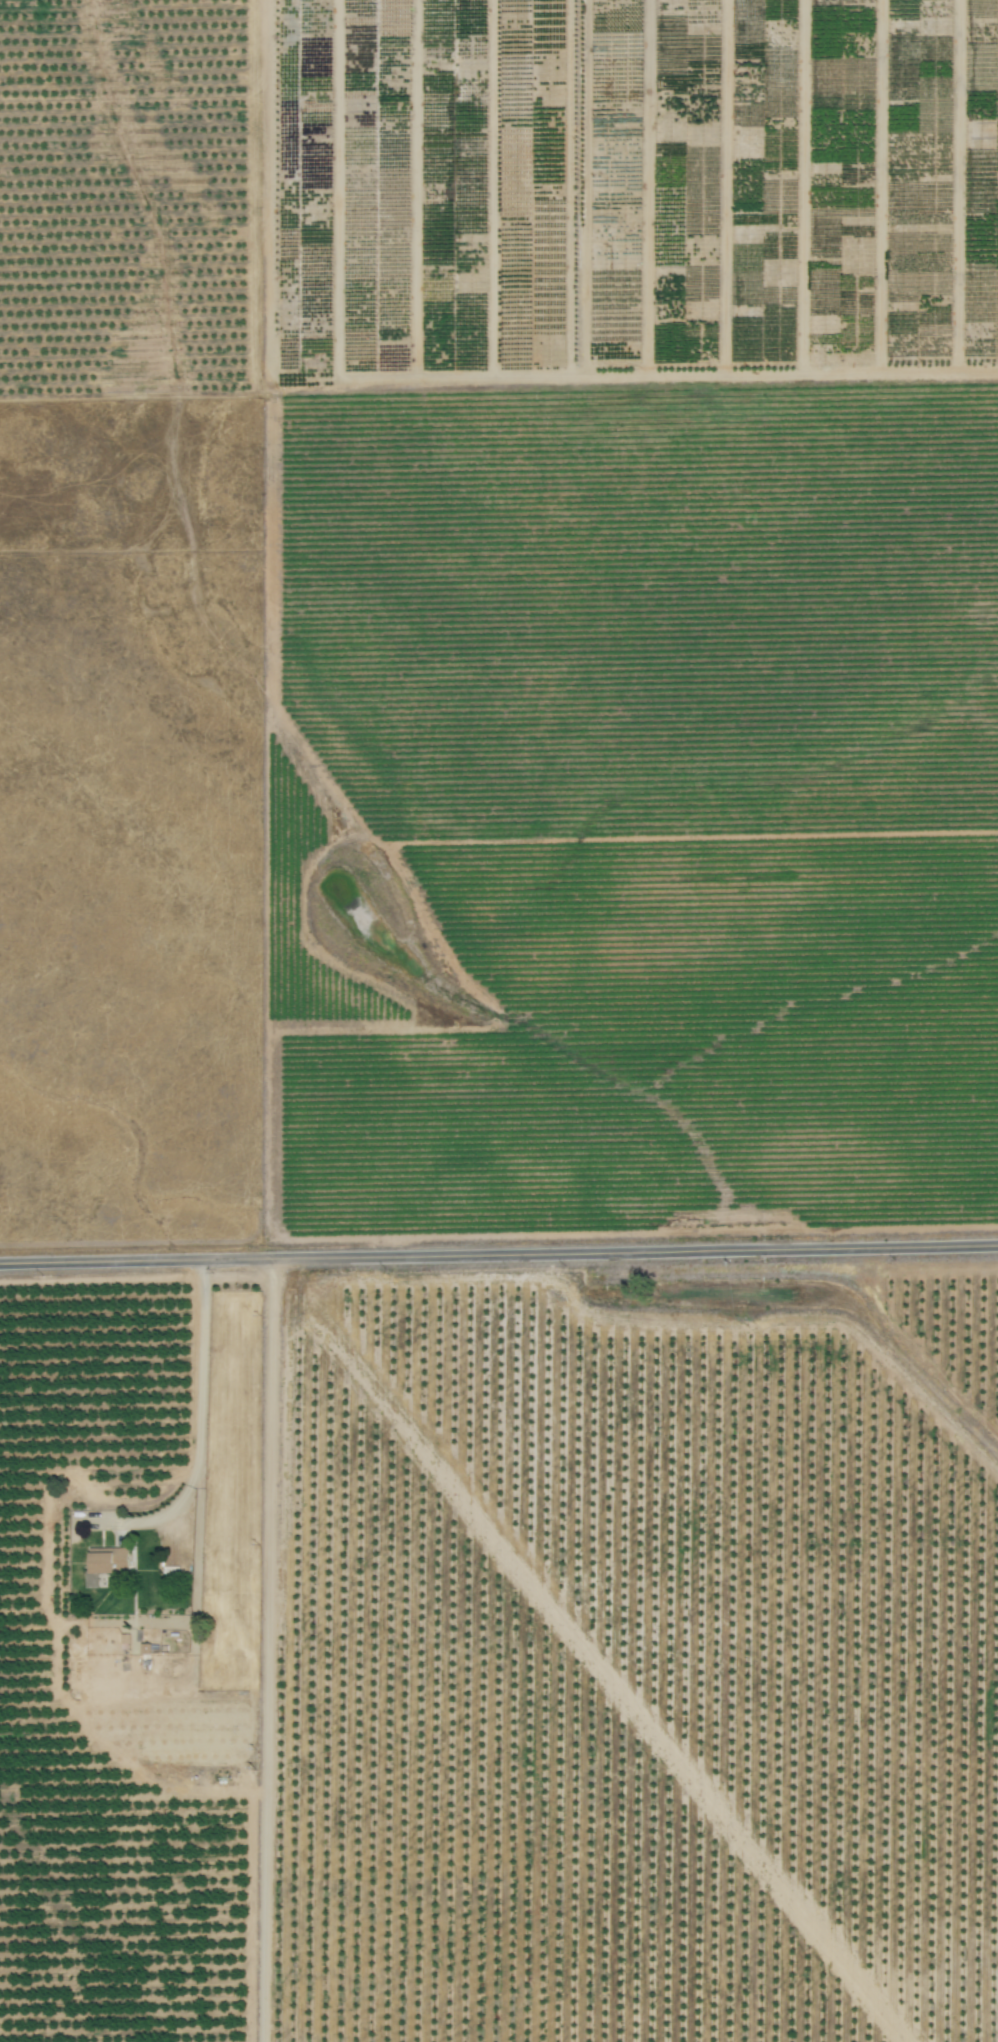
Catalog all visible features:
road: (499, 1252)
road: (193, 1473)
road: (153, 1517)
building: (113, 1560)
road: (264, 1649)

